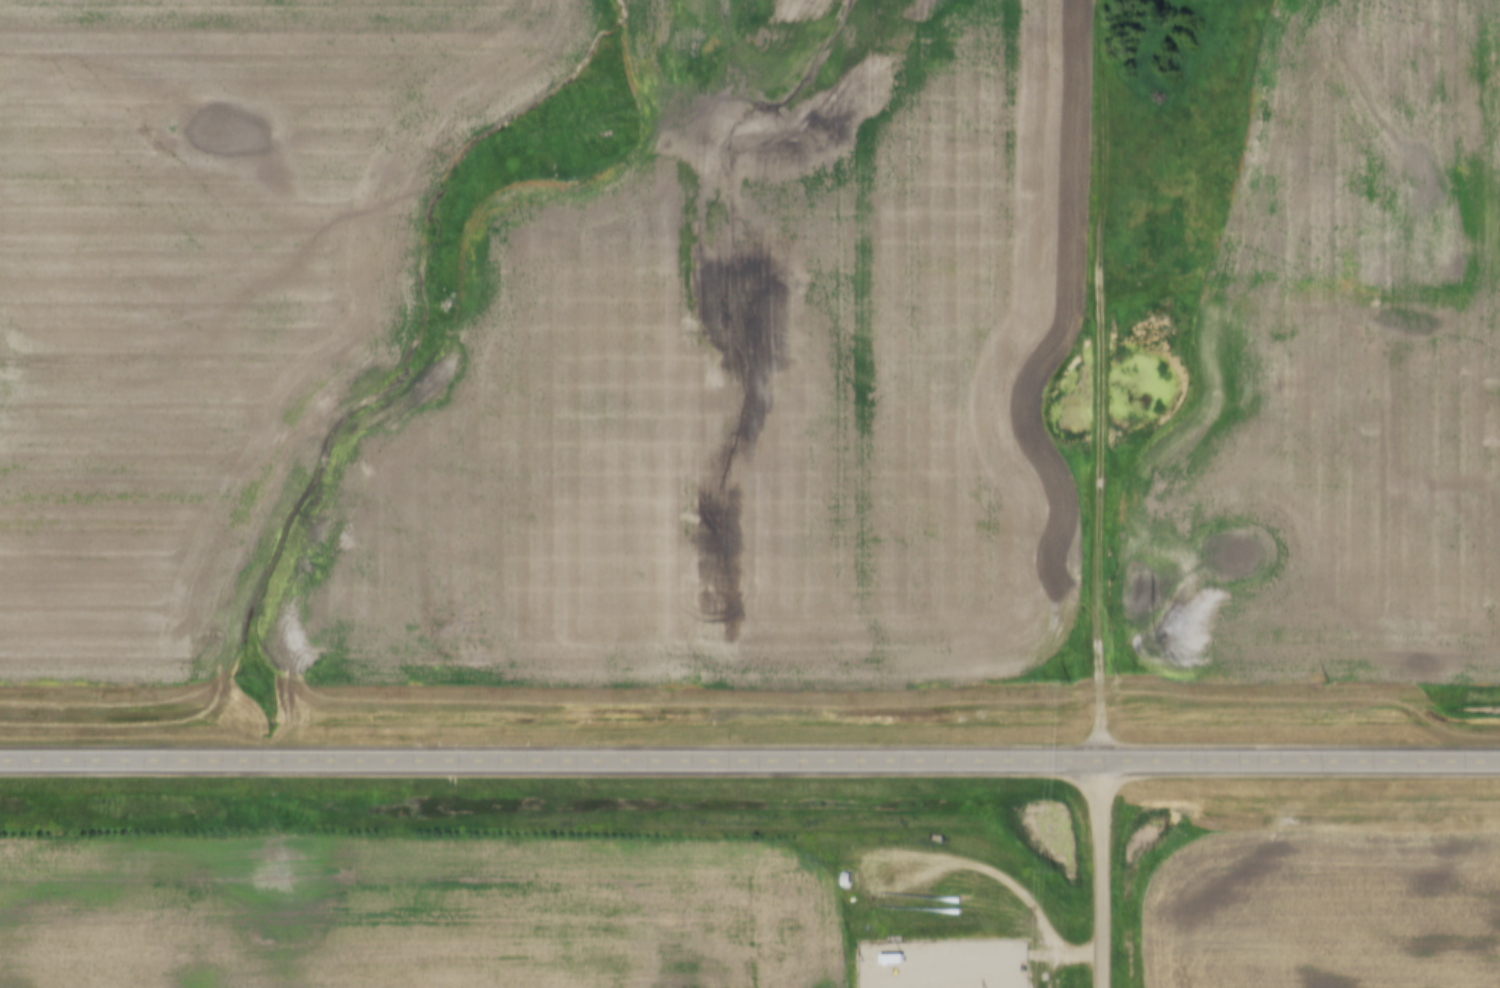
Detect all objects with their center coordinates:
road: (1101, 383)
road: (750, 763)
road: (1103, 877)
building: (847, 880)
road: (984, 956)
building: (893, 960)
power substation: (938, 965)

